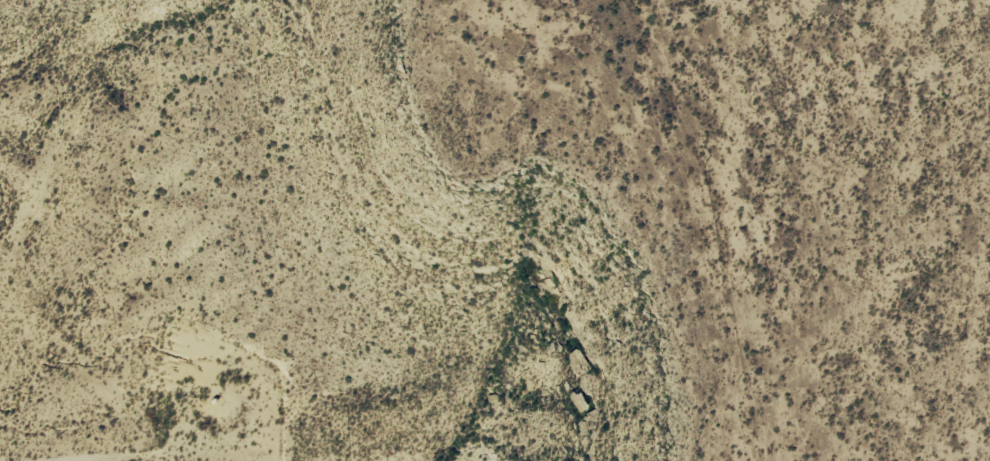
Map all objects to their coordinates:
road: (42, 168)

